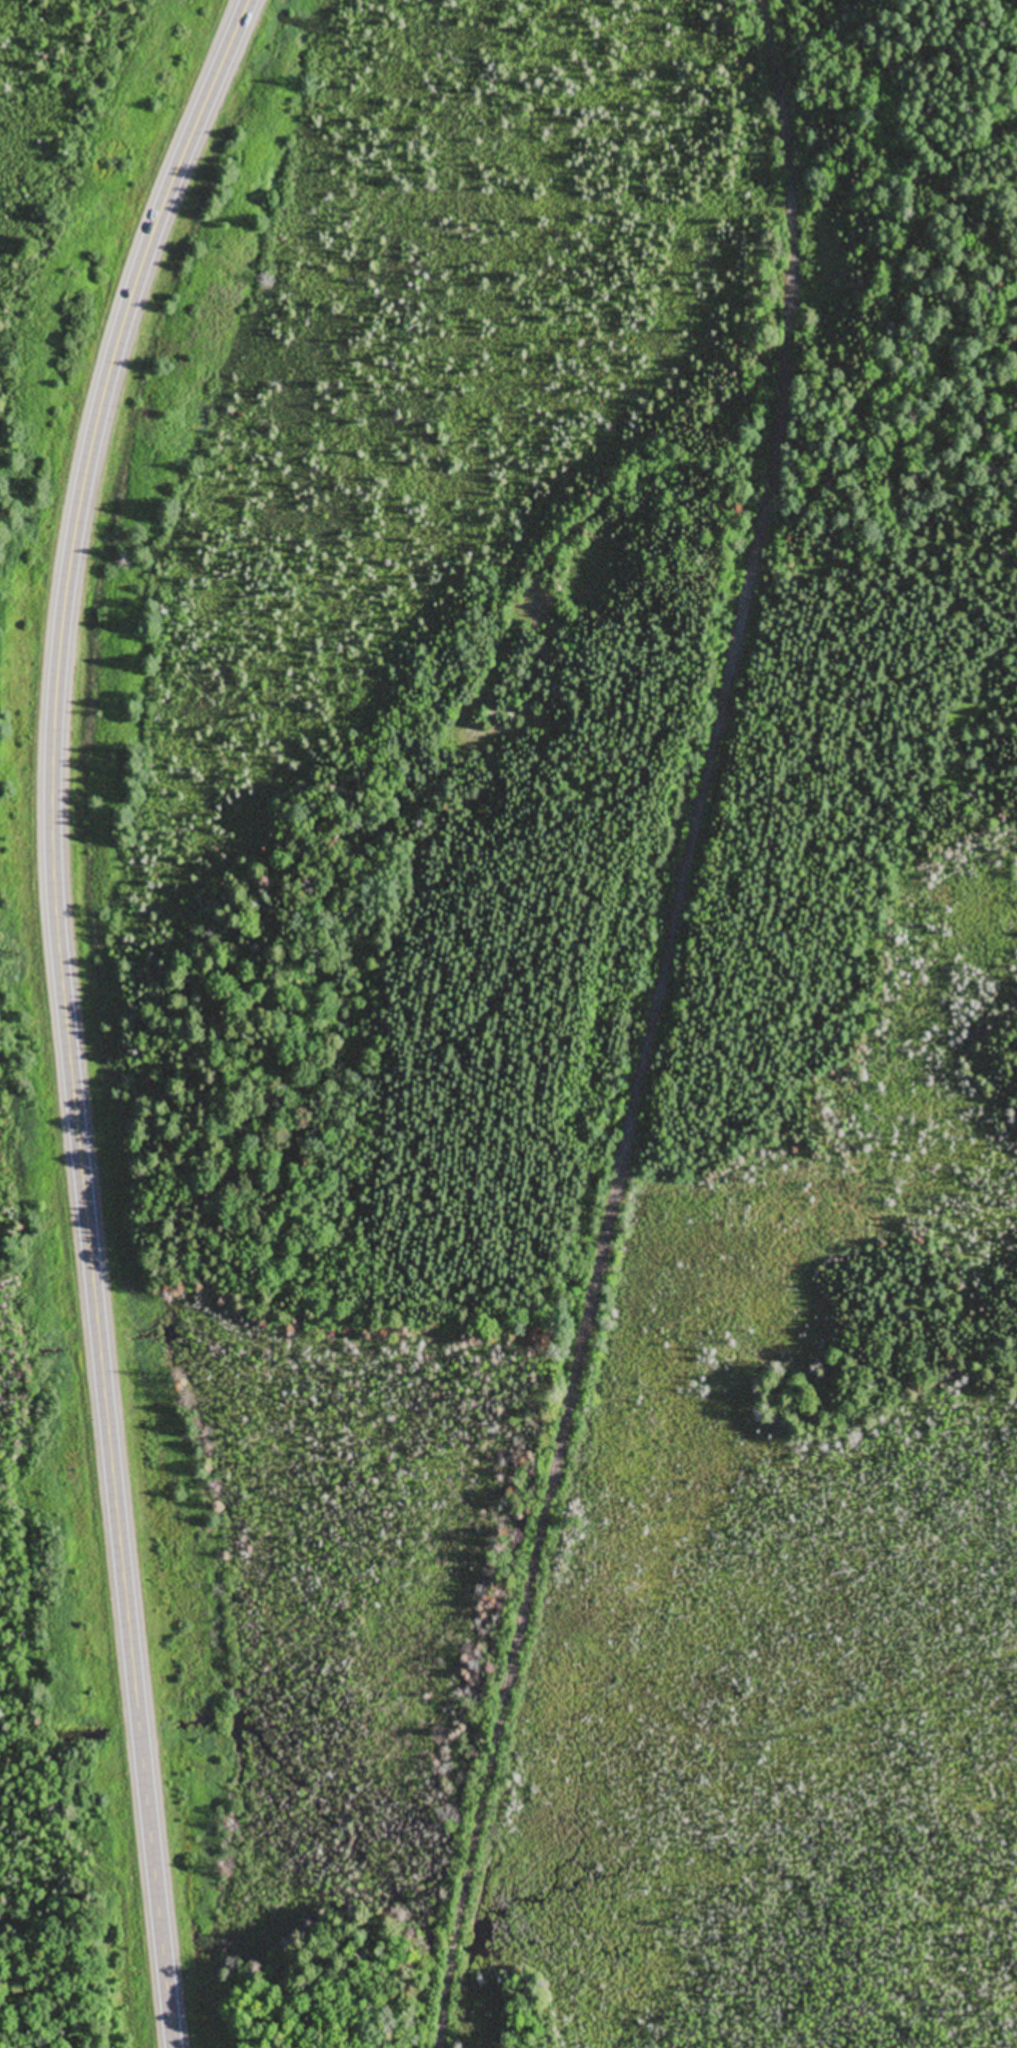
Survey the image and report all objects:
road: (777, 21)
road: (831, 216)
road: (64, 1011)
road: (638, 1083)

